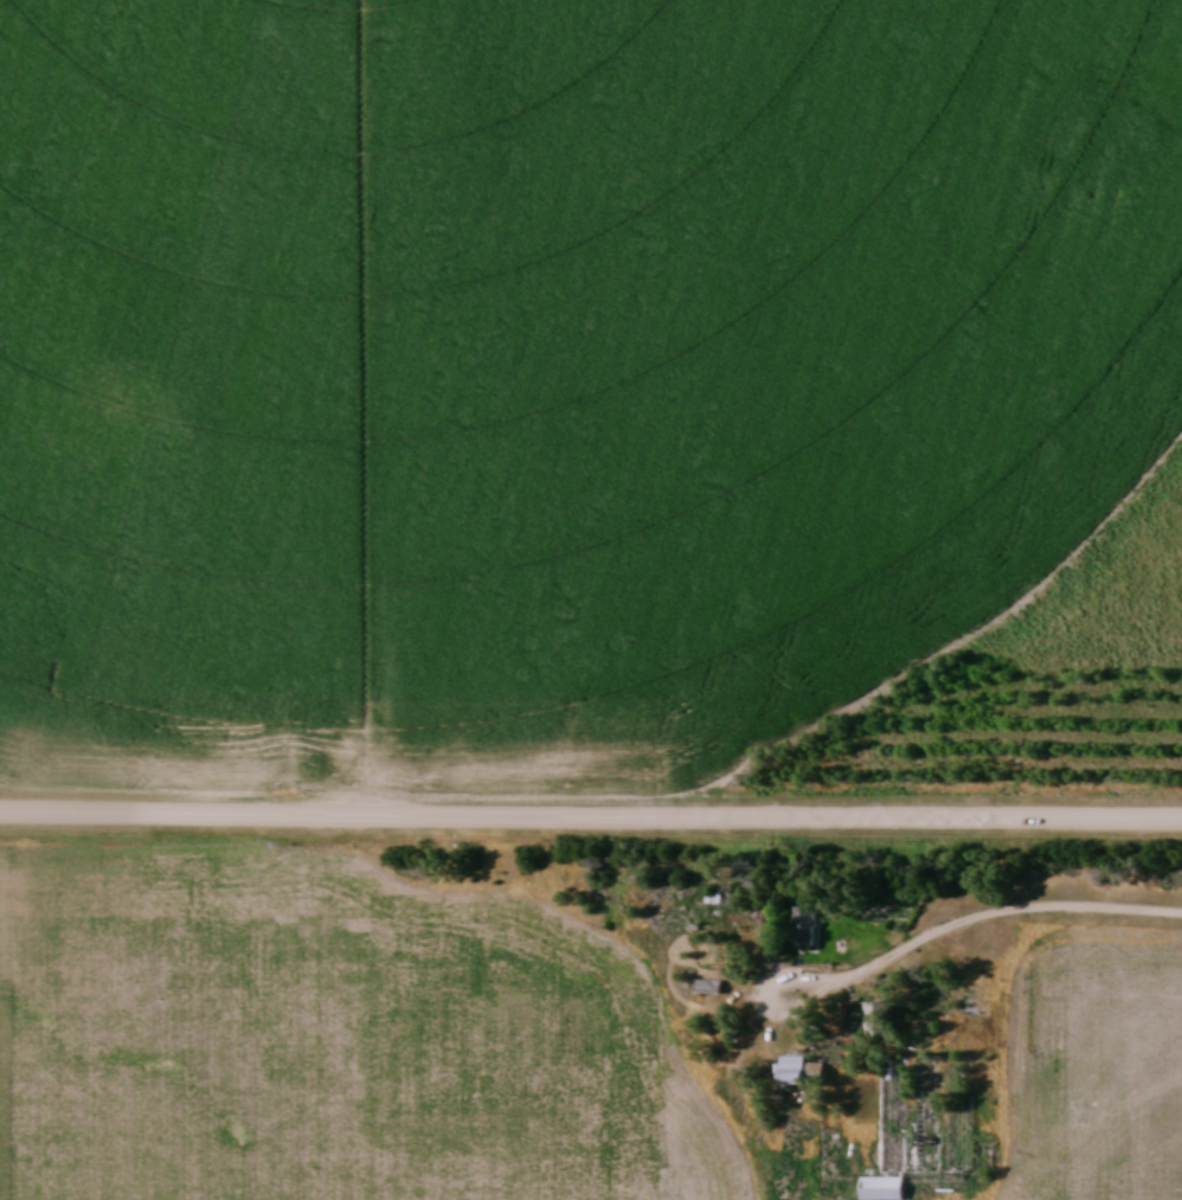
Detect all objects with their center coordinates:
road: (591, 814)
road: (970, 918)
building: (811, 929)
building: (712, 988)
building: (878, 1021)
building: (805, 1072)
building: (892, 1134)

